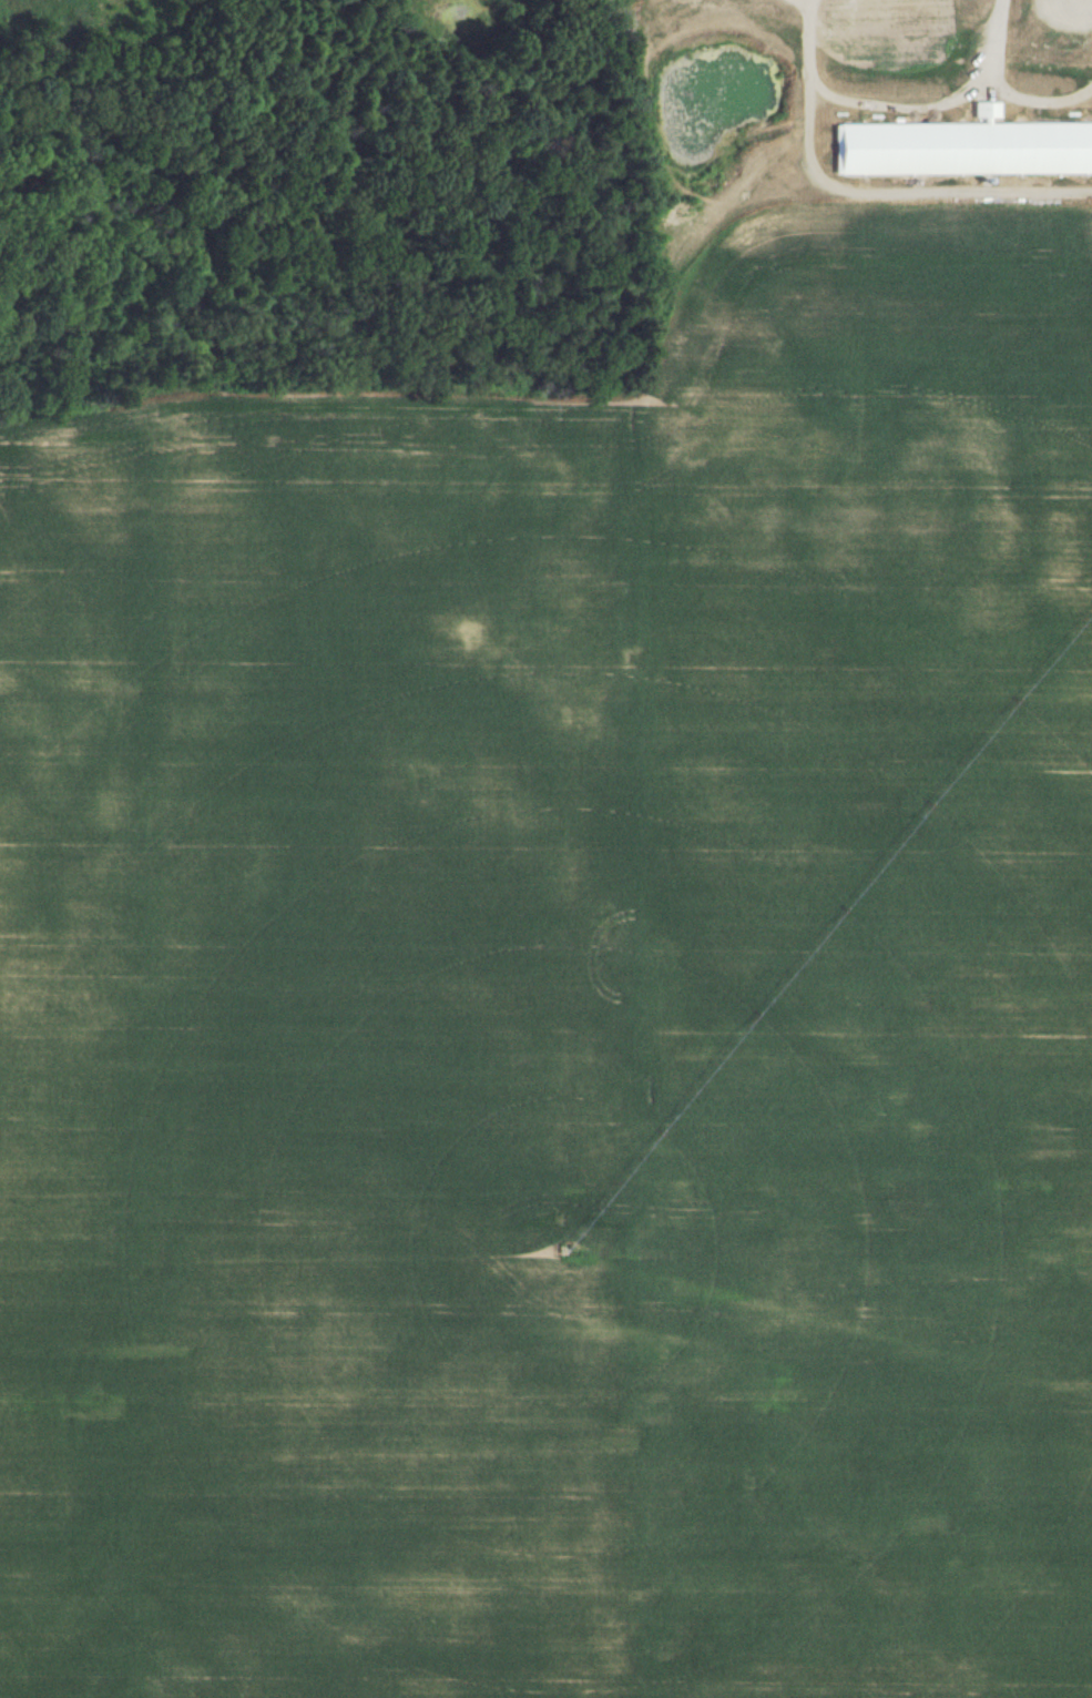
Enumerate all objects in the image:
building: (966, 144)

